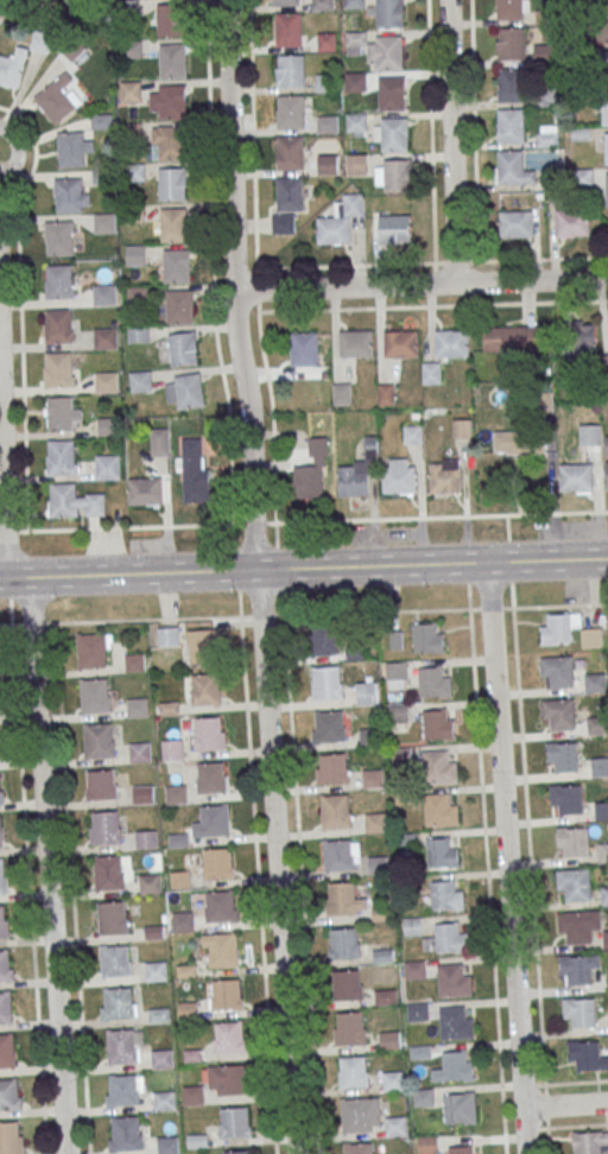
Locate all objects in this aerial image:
building: (603, 0)
building: (286, 1)
building: (354, 4)
building: (323, 5)
building: (0, 8)
building: (509, 8)
building: (388, 13)
building: (171, 19)
building: (602, 25)
building: (289, 28)
building: (40, 40)
building: (512, 43)
building: (386, 51)
building: (172, 59)
building: (603, 64)
building: (13, 68)
building: (292, 70)
building: (356, 81)
building: (511, 84)
road: (473, 88)
building: (131, 91)
building: (391, 91)
building: (57, 99)
building: (173, 101)
building: (604, 106)
building: (291, 110)
building: (328, 123)
building: (356, 125)
building: (511, 125)
road: (431, 131)
building: (394, 133)
road: (252, 134)
building: (547, 135)
road: (451, 141)
building: (173, 142)
building: (607, 147)
building: (74, 148)
building: (290, 152)
building: (357, 163)
building: (328, 164)
building: (512, 167)
building: (393, 175)
building: (172, 183)
building: (607, 189)
building: (290, 192)
building: (71, 195)
building: (340, 221)
building: (104, 222)
building: (572, 222)
building: (173, 223)
building: (284, 223)
building: (517, 223)
building: (394, 228)
building: (59, 237)
building: (137, 254)
road: (213, 262)
building: (177, 265)
building: (59, 281)
road: (422, 284)
road: (235, 285)
building: (104, 293)
road: (258, 303)
building: (179, 306)
building: (58, 325)
building: (106, 337)
building: (511, 337)
building: (583, 337)
building: (356, 342)
building: (400, 342)
building: (452, 342)
building: (184, 348)
building: (305, 348)
building: (607, 355)
building: (59, 368)
building: (432, 372)
building: (107, 381)
building: (140, 381)
building: (185, 391)
building: (63, 413)
road: (273, 416)
building: (108, 425)
building: (412, 433)
building: (590, 435)
building: (160, 440)
building: (508, 442)
building: (607, 444)
building: (62, 457)
building: (108, 465)
road: (6, 468)
building: (195, 470)
building: (313, 471)
building: (360, 471)
building: (607, 474)
building: (399, 475)
building: (445, 475)
building: (576, 478)
building: (512, 481)
building: (146, 490)
building: (75, 501)
road: (304, 521)
road: (304, 569)
road: (303, 613)
building: (560, 628)
building: (169, 635)
building: (324, 636)
building: (591, 636)
building: (427, 639)
building: (204, 646)
building: (93, 649)
road: (36, 661)
building: (557, 670)
building: (397, 674)
building: (435, 681)
building: (595, 681)
building: (328, 683)
building: (205, 689)
building: (367, 692)
building: (94, 695)
building: (138, 705)
building: (559, 712)
building: (398, 714)
building: (438, 724)
building: (597, 724)
building: (331, 725)
building: (210, 733)
building: (368, 736)
building: (99, 740)
building: (173, 749)
building: (140, 750)
building: (563, 755)
building: (600, 766)
building: (334, 767)
building: (438, 767)
building: (211, 778)
building: (373, 778)
building: (101, 784)
building: (1, 787)
building: (144, 793)
building: (176, 793)
building: (566, 798)
building: (439, 810)
building: (601, 810)
building: (336, 811)
building: (213, 820)
building: (375, 822)
building: (107, 826)
building: (0, 836)
building: (146, 837)
road: (297, 838)
building: (572, 841)
building: (607, 850)
building: (442, 852)
building: (341, 854)
road: (507, 857)
building: (217, 862)
road: (277, 862)
building: (378, 863)
building: (108, 871)
building: (1, 875)
road: (531, 880)
road: (487, 881)
building: (150, 882)
building: (572, 883)
road: (258, 884)
road: (71, 887)
road: (28, 888)
building: (446, 895)
building: (604, 895)
building: (341, 896)
building: (220, 903)
building: (381, 913)
building: (110, 918)
building: (183, 920)
building: (4, 922)
building: (412, 925)
building: (577, 925)
building: (451, 937)
building: (344, 943)
road: (55, 950)
building: (223, 950)
building: (384, 955)
building: (115, 960)
building: (6, 965)
building: (414, 968)
building: (577, 968)
building: (156, 970)
building: (454, 981)
building: (347, 983)
building: (227, 994)
building: (385, 996)
building: (118, 1002)
building: (6, 1007)
building: (188, 1009)
building: (418, 1010)
building: (578, 1012)
building: (159, 1014)
building: (607, 1021)
building: (455, 1023)
building: (350, 1027)
building: (229, 1036)
building: (389, 1040)
building: (122, 1045)
building: (7, 1050)
building: (419, 1051)
building: (587, 1055)
building: (160, 1057)
building: (457, 1066)
building: (354, 1070)
building: (226, 1079)
building: (393, 1080)
road: (576, 1080)
building: (123, 1089)
building: (8, 1091)
building: (194, 1093)
building: (422, 1096)
building: (164, 1098)
road: (565, 1104)
building: (460, 1108)
building: (360, 1114)
building: (235, 1121)
building: (395, 1126)
road: (577, 1126)
building: (125, 1133)
building: (9, 1137)
building: (590, 1142)
building: (167, 1143)
building: (425, 1145)
building: (357, 1148)
building: (460, 1149)
building: (237, 1152)

